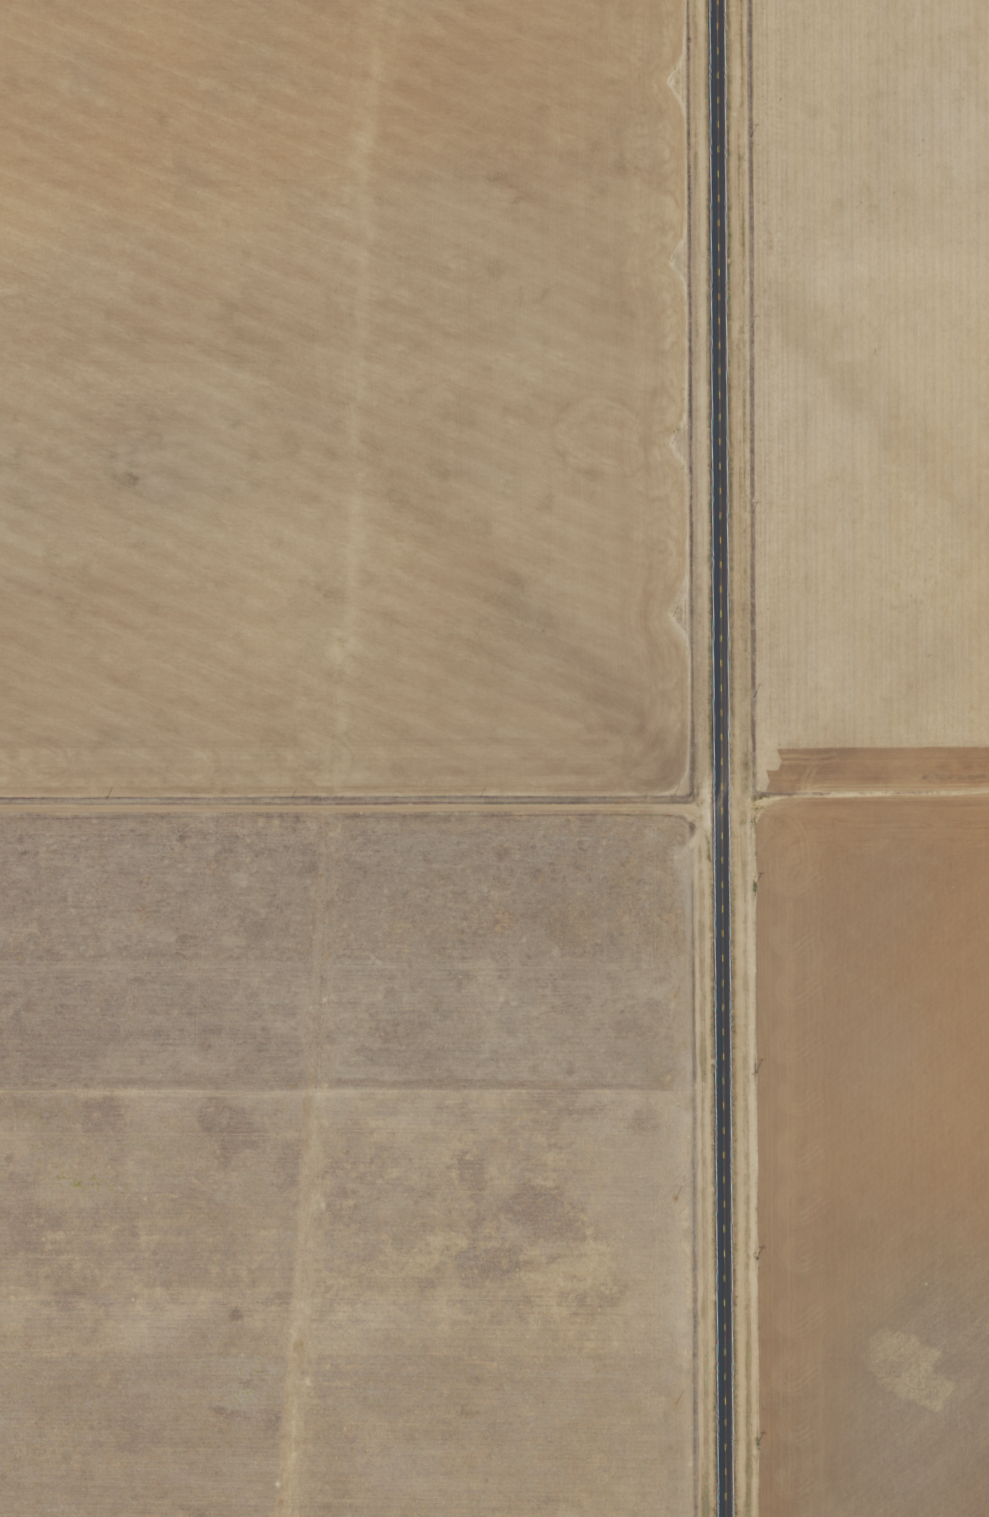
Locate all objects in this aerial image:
road: (718, 758)
road: (359, 808)

